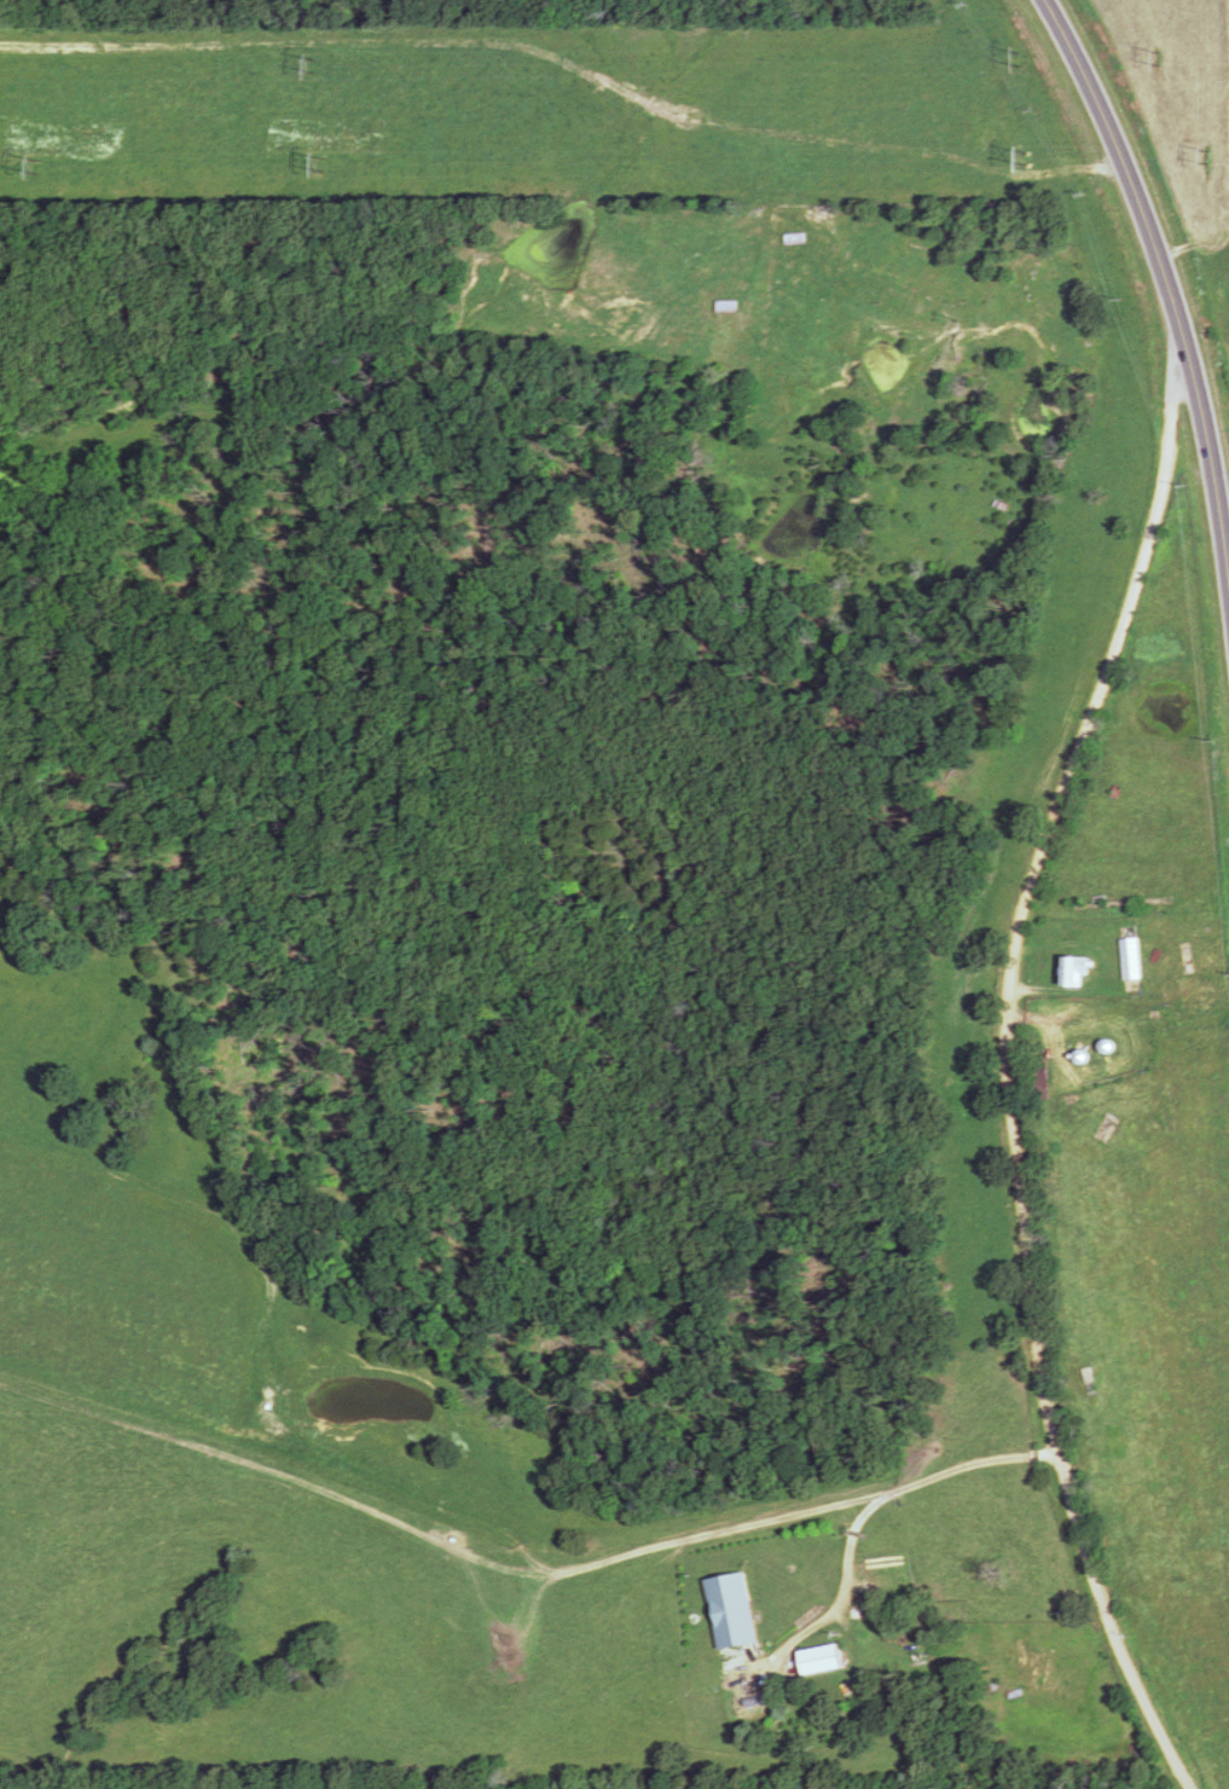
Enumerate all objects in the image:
building: (794, 238)
road: (1171, 279)
building: (727, 306)
building: (1134, 959)
building: (1078, 969)
road: (1002, 1071)
building: (732, 1610)
building: (822, 1660)

